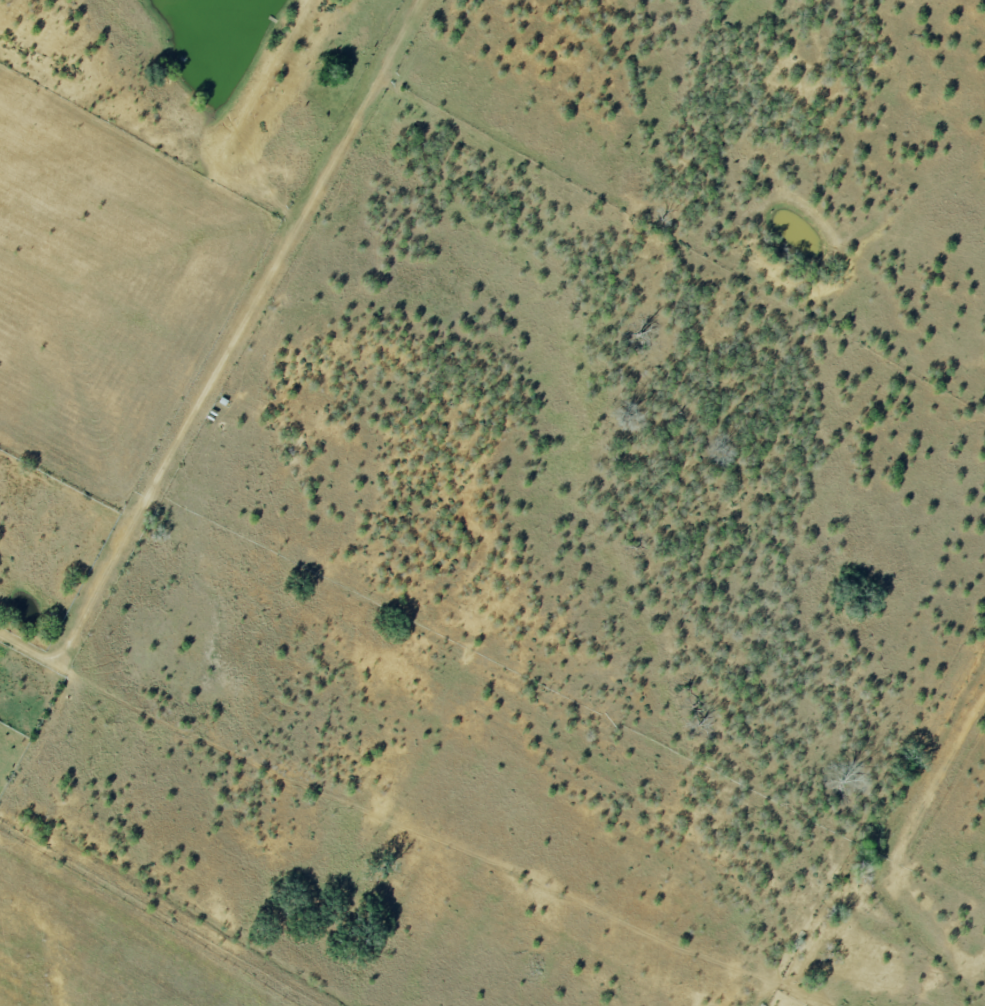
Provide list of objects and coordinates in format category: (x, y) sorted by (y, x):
road: (171, 457)

